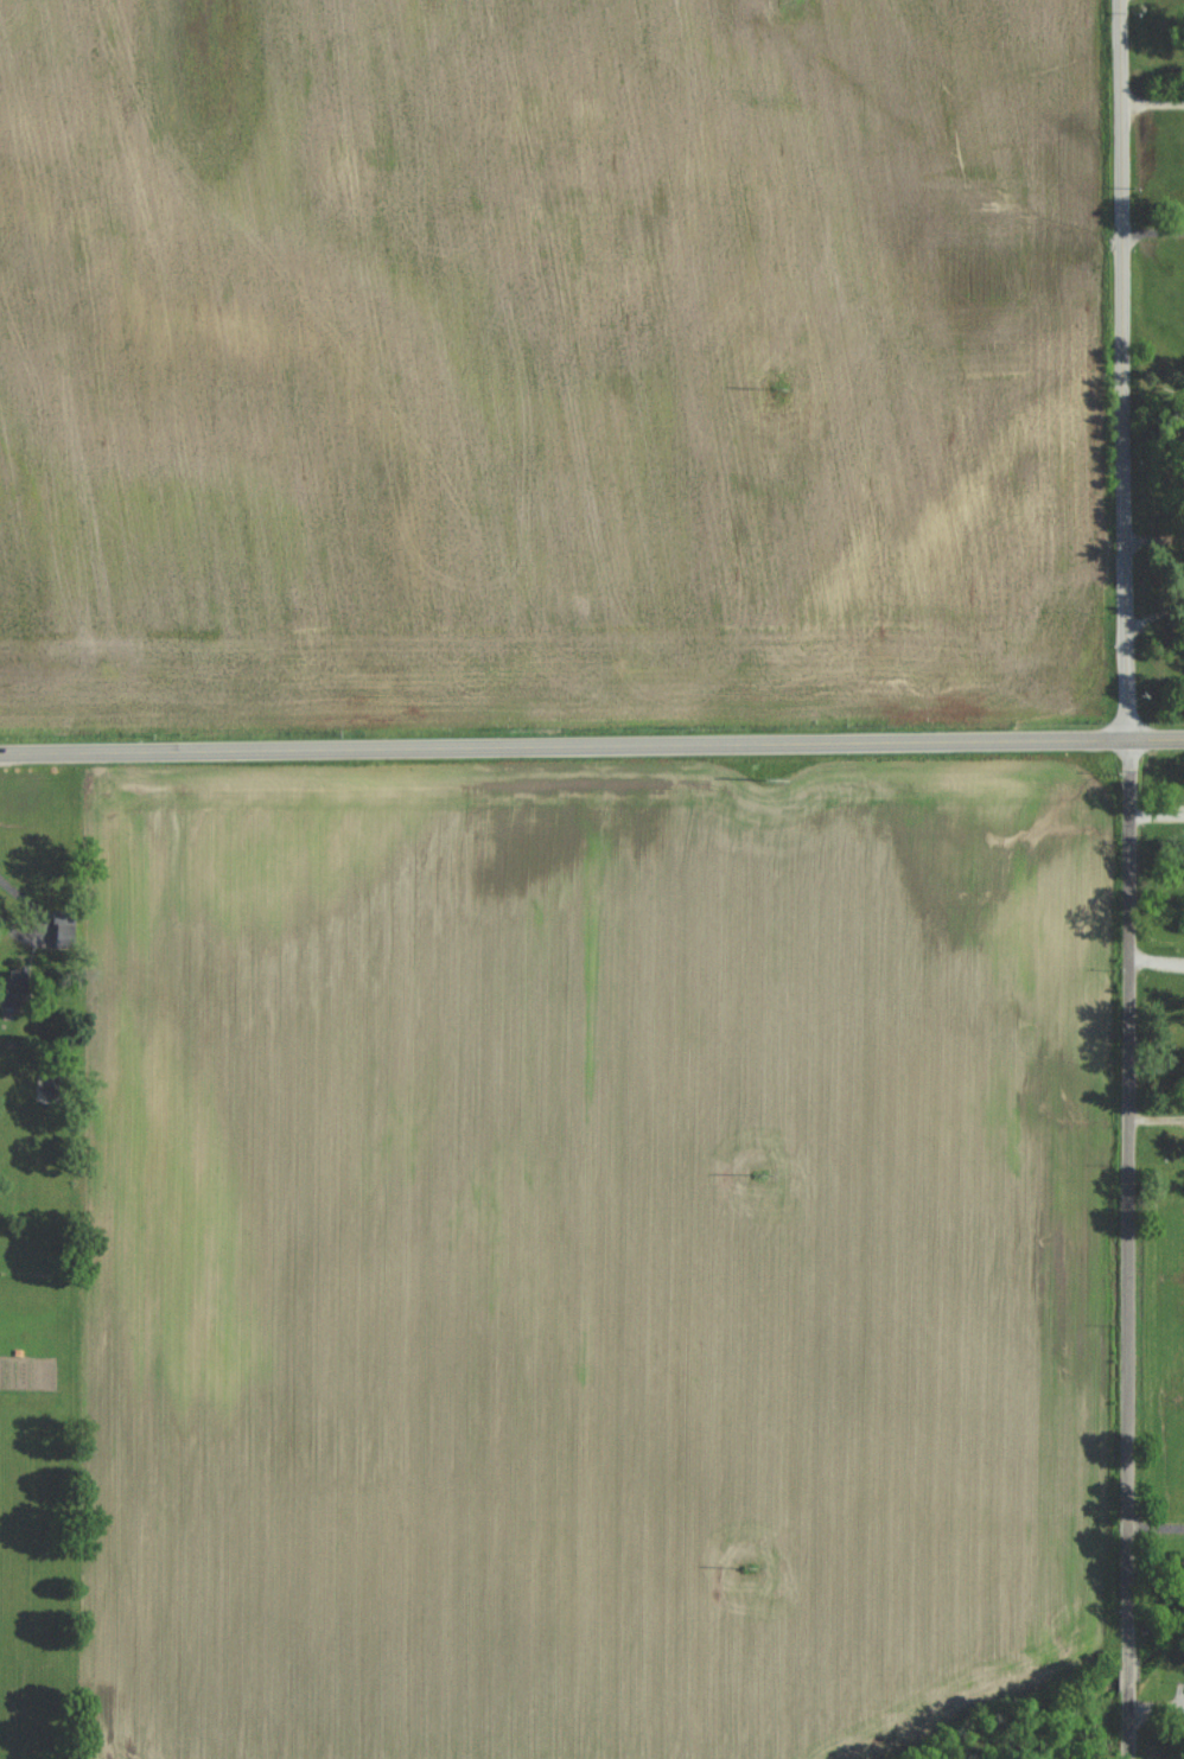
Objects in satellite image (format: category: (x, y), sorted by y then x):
road: (1153, 104)
road: (1153, 232)
road: (591, 741)
road: (1129, 879)
building: (66, 928)
building: (20, 983)
road: (1157, 1525)

